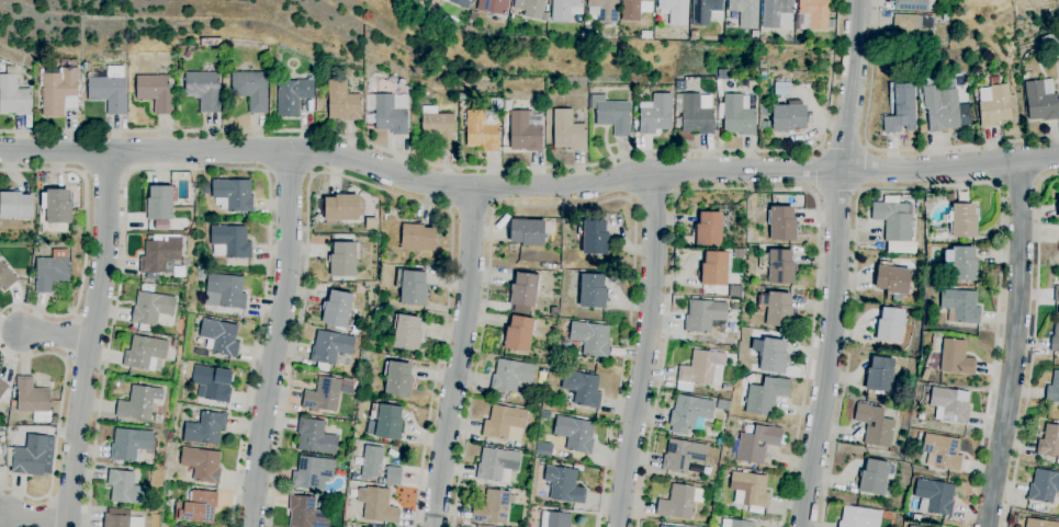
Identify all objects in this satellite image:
building: (458, 2)
building: (911, 4)
building: (932, 4)
building: (493, 5)
building: (530, 8)
building: (565, 9)
building: (602, 10)
building: (631, 10)
building: (675, 11)
building: (433, 12)
building: (706, 12)
building: (745, 12)
building: (777, 14)
building: (812, 14)
building: (474, 16)
building: (915, 28)
building: (695, 35)
building: (825, 50)
building: (1056, 51)
building: (392, 78)
building: (401, 82)
building: (108, 89)
building: (719, 89)
building: (59, 90)
building: (203, 90)
building: (250, 90)
building: (781, 90)
building: (155, 92)
building: (13, 96)
building: (292, 96)
building: (1041, 100)
building: (342, 101)
building: (993, 103)
building: (940, 108)
building: (901, 110)
building: (388, 112)
building: (655, 114)
building: (694, 114)
building: (611, 115)
building: (736, 115)
building: (784, 116)
building: (438, 127)
building: (526, 130)
building: (481, 131)
building: (567, 131)
road: (844, 146)
road: (889, 149)
road: (53, 151)
road: (195, 168)
road: (484, 168)
road: (816, 169)
road: (863, 169)
road: (105, 173)
road: (289, 173)
road: (1018, 182)
road: (364, 184)
road: (931, 184)
road: (581, 186)
building: (204, 188)
road: (743, 188)
road: (837, 192)
building: (233, 195)
road: (650, 195)
building: (928, 199)
building: (160, 203)
building: (15, 205)
building: (56, 206)
road: (566, 206)
building: (1058, 206)
building: (343, 208)
road: (472, 209)
building: (961, 220)
building: (724, 222)
building: (371, 224)
building: (781, 224)
building: (894, 224)
building: (708, 229)
building: (526, 232)
building: (417, 237)
building: (595, 239)
road: (86, 241)
building: (229, 242)
building: (161, 257)
building: (342, 260)
building: (959, 263)
road: (834, 264)
building: (780, 267)
building: (714, 268)
building: (52, 270)
building: (5, 276)
building: (891, 278)
building: (412, 288)
building: (225, 291)
building: (592, 291)
building: (523, 293)
building: (1057, 293)
building: (733, 302)
building: (959, 306)
building: (151, 308)
building: (777, 310)
building: (338, 311)
building: (705, 316)
building: (199, 317)
building: (890, 325)
building: (406, 333)
building: (519, 334)
road: (58, 336)
building: (219, 337)
building: (735, 337)
building: (1055, 337)
road: (91, 339)
road: (277, 339)
building: (590, 339)
building: (174, 343)
road: (1014, 345)
road: (1034, 345)
building: (329, 350)
road: (645, 351)
building: (202, 352)
building: (144, 353)
building: (770, 355)
road: (459, 357)
building: (954, 357)
building: (701, 368)
building: (879, 375)
building: (924, 375)
building: (510, 377)
building: (398, 380)
building: (212, 383)
building: (347, 387)
building: (2, 388)
building: (581, 388)
building: (1052, 389)
building: (323, 396)
building: (765, 396)
building: (32, 400)
building: (138, 402)
building: (721, 405)
building: (949, 405)
building: (158, 412)
building: (689, 414)
road: (58, 419)
building: (384, 422)
building: (505, 423)
building: (874, 425)
building: (205, 429)
building: (575, 434)
building: (315, 437)
building: (1049, 442)
building: (757, 444)
building: (128, 445)
building: (543, 449)
building: (940, 451)
building: (0, 452)
building: (29, 454)
building: (683, 456)
building: (371, 462)
building: (202, 465)
building: (496, 466)
building: (696, 469)
building: (312, 472)
building: (391, 477)
building: (876, 478)
building: (564, 485)
building: (1044, 486)
building: (125, 488)
building: (750, 490)
building: (353, 494)
building: (934, 497)
building: (679, 502)
building: (320, 505)
building: (376, 505)
building: (493, 507)
building: (198, 508)
building: (305, 513)
building: (858, 517)
road: (35, 518)
building: (555, 519)
building: (121, 522)
building: (1039, 523)
building: (736, 524)
building: (662, 526)
building: (911, 526)

